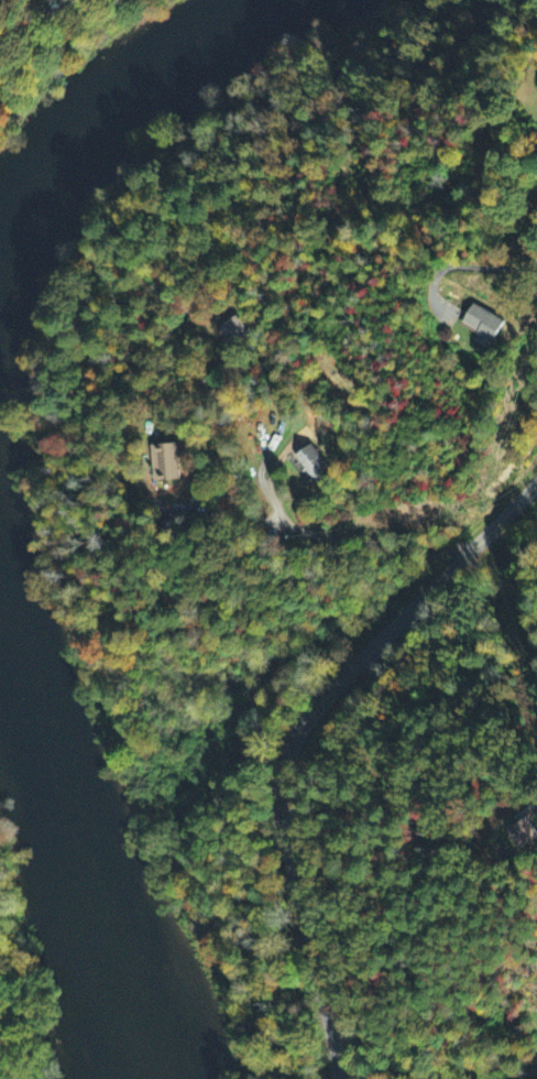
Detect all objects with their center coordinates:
building: (534, 220)
road: (460, 265)
river: (20, 317)
building: (483, 320)
building: (234, 331)
building: (164, 465)
building: (313, 465)
road: (310, 533)
road: (293, 734)
river: (89, 905)
road: (437, 1071)

